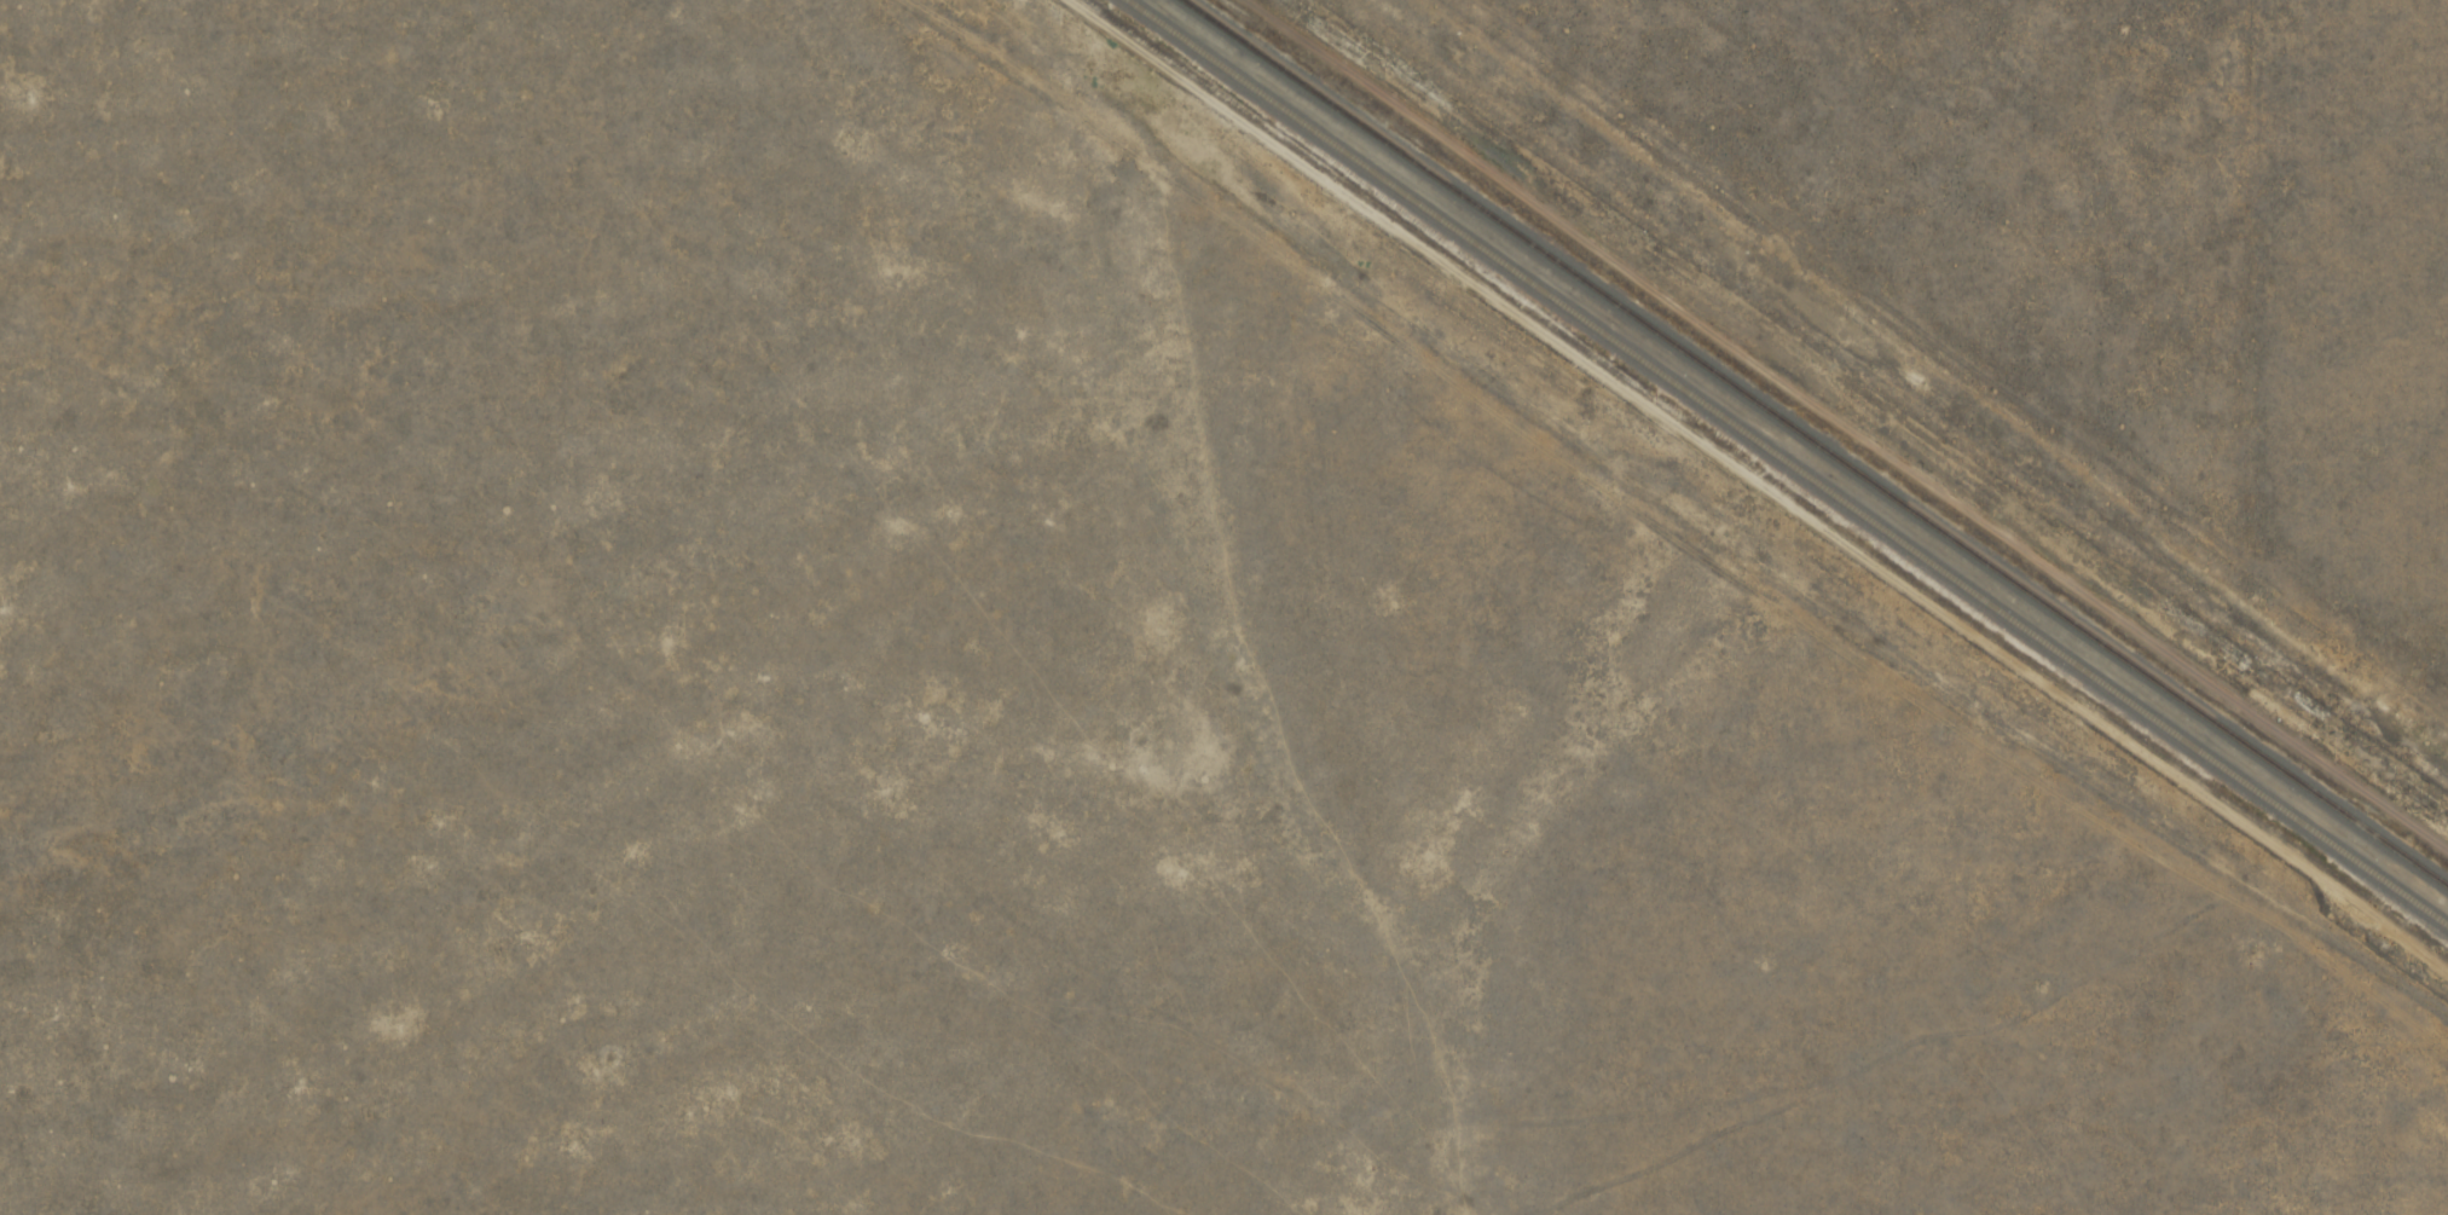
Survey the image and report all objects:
railway: (1815, 444)
railway: (1787, 463)
road: (1622, 540)

